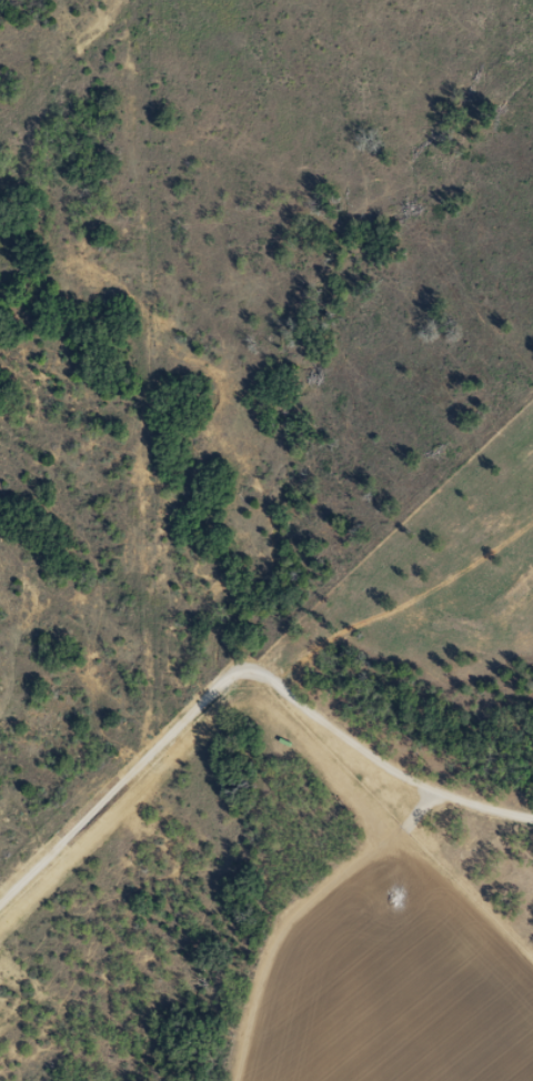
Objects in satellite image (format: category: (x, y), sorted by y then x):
road: (239, 670)

